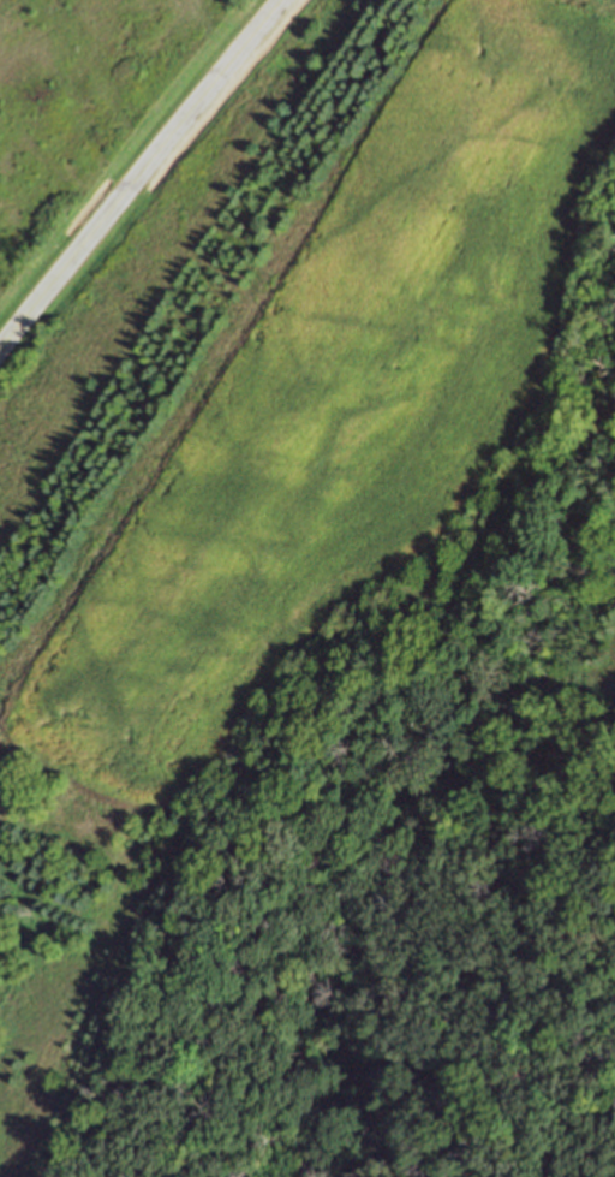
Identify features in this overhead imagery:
road: (138, 173)

